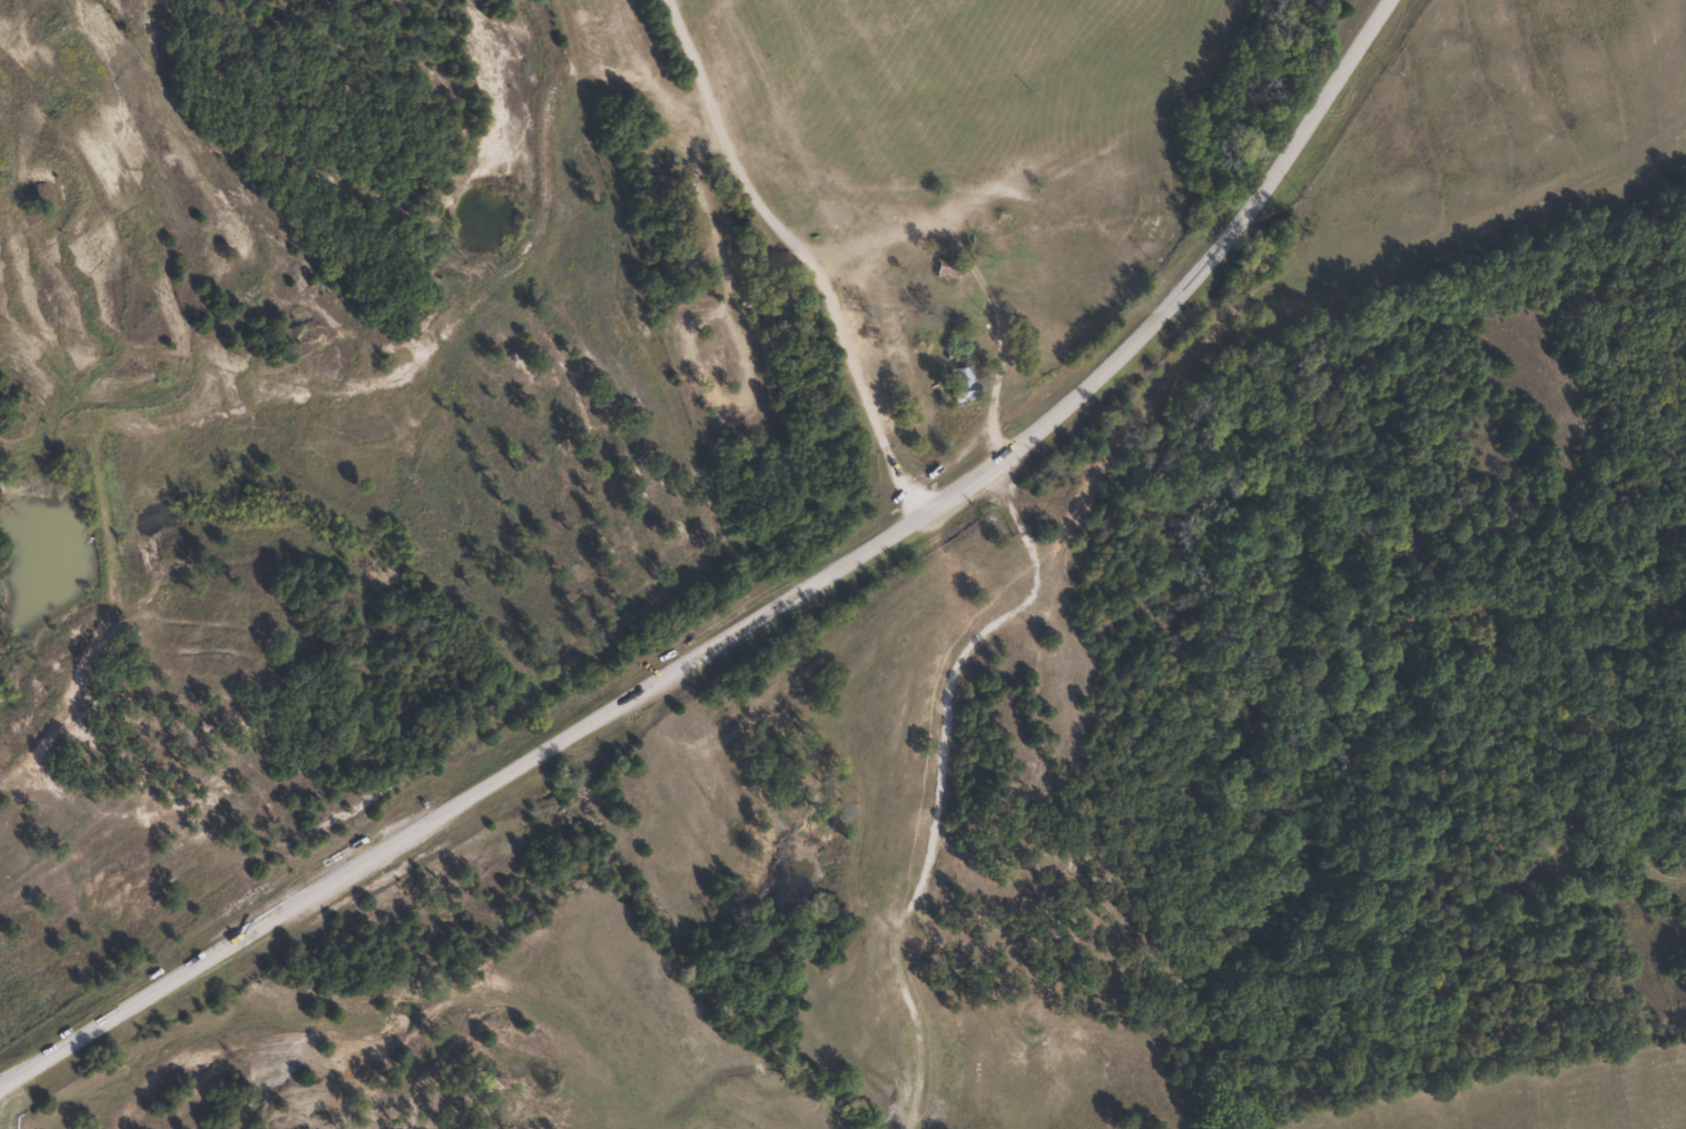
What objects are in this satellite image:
building: (958, 383)
road: (1601, 457)
road: (758, 616)

